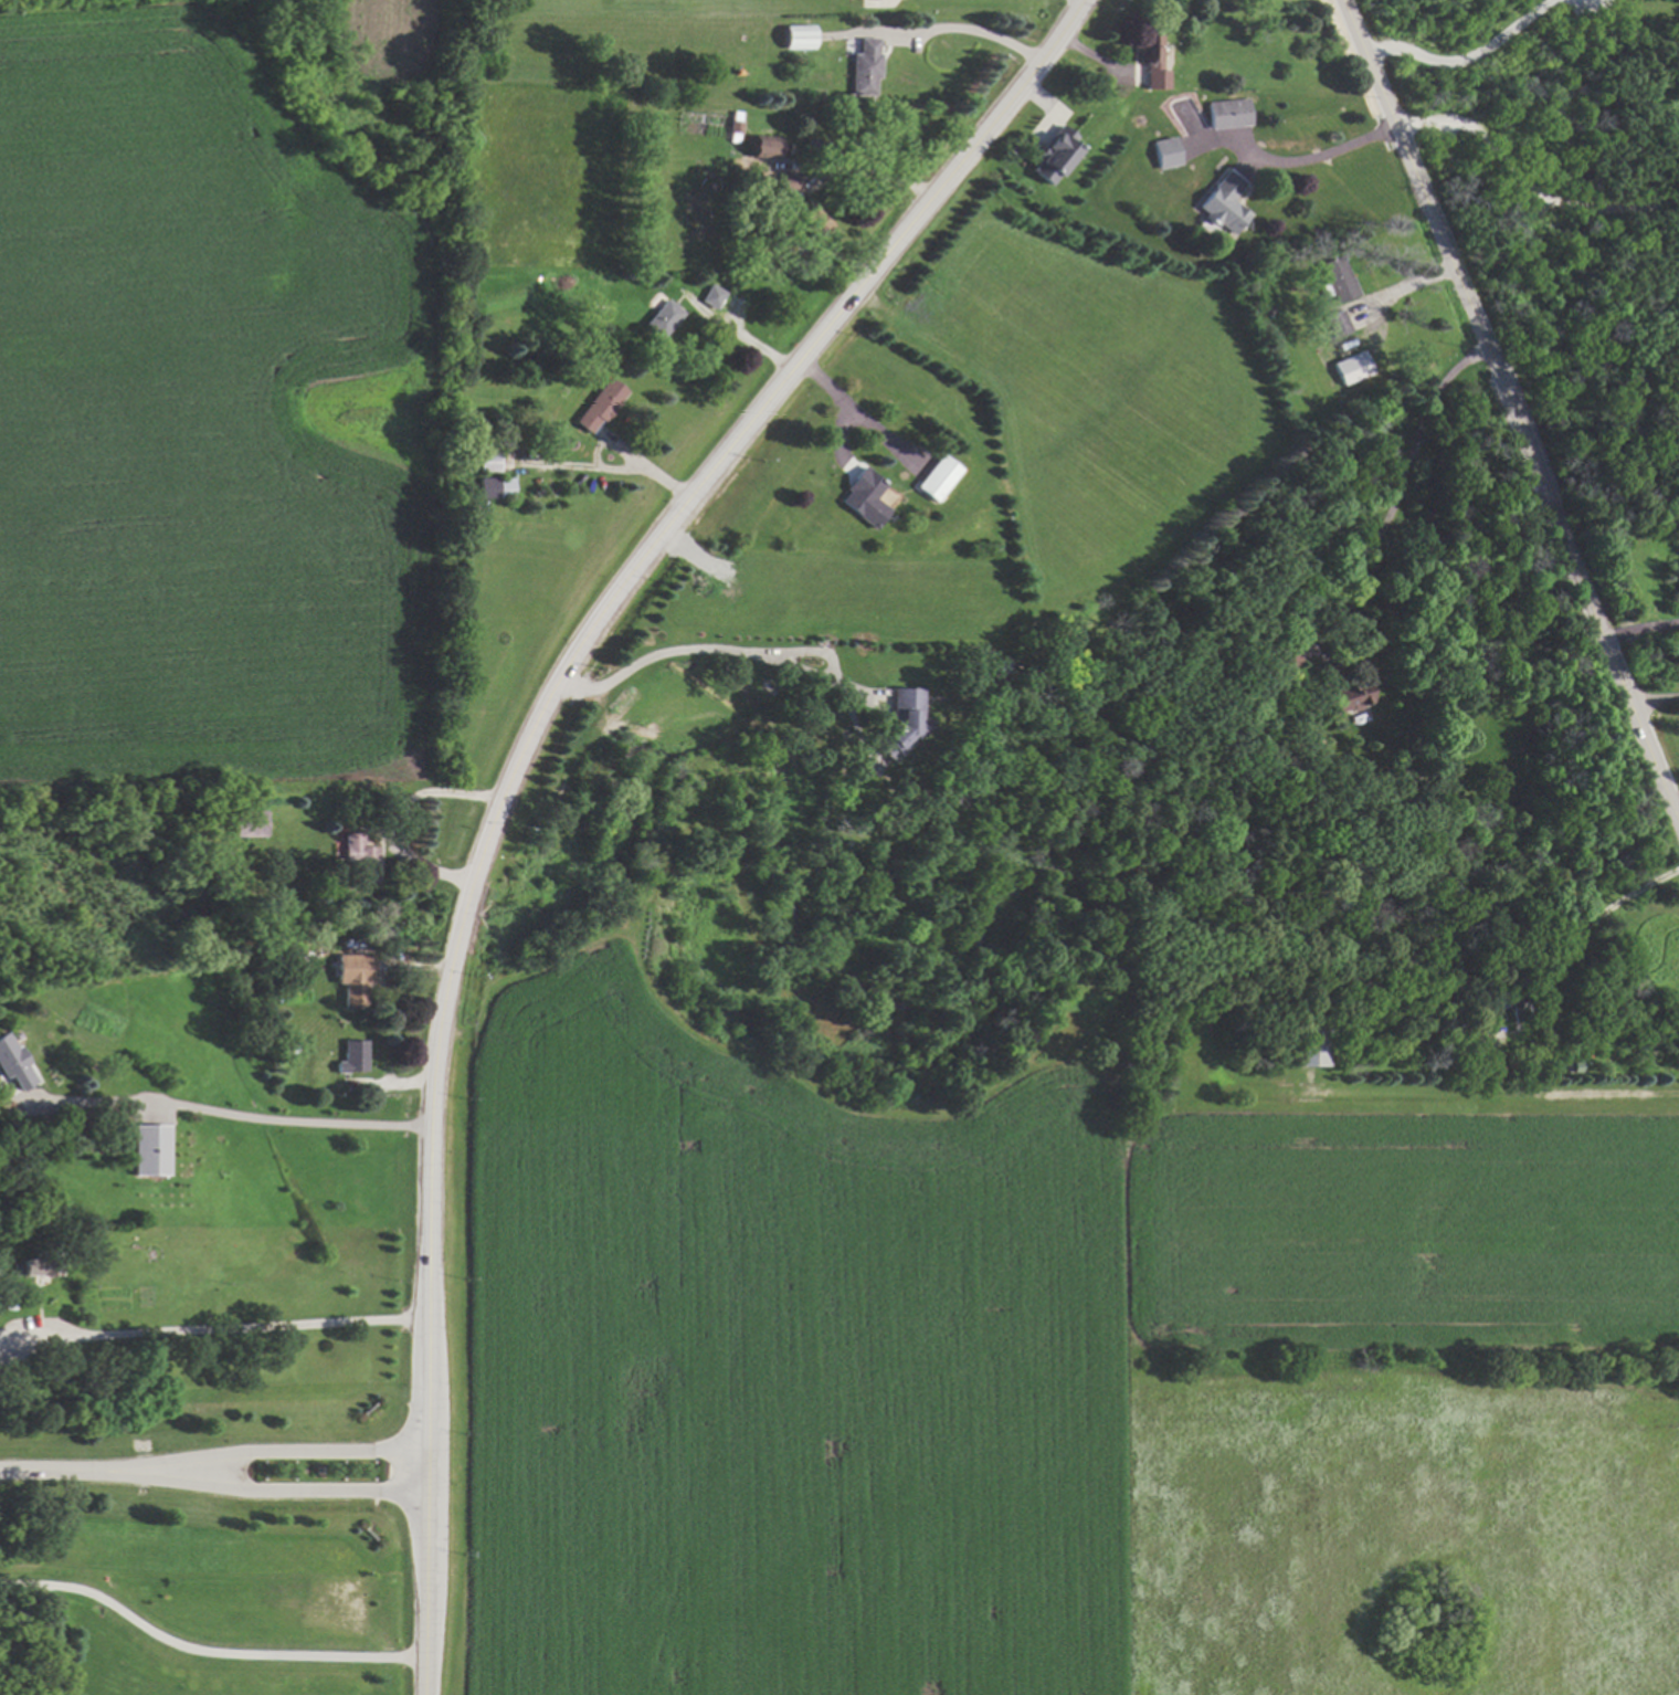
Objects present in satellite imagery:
road: (953, 27)
building: (794, 36)
road: (1467, 56)
building: (1149, 61)
building: (862, 66)
building: (1227, 113)
building: (761, 145)
building: (1163, 152)
building: (1050, 155)
road: (1320, 157)
building: (786, 185)
road: (1529, 187)
building: (1222, 202)
building: (815, 223)
building: (1335, 278)
road: (1404, 286)
building: (709, 296)
building: (658, 318)
building: (1333, 324)
building: (1349, 367)
building: (596, 404)
road: (1512, 406)
crop: (191, 417)
building: (485, 462)
road: (643, 464)
building: (936, 477)
building: (492, 487)
road: (1396, 494)
building: (862, 497)
road: (1643, 630)
road: (712, 651)
building: (1285, 656)
building: (1347, 695)
road: (1656, 698)
building: (902, 723)
road: (519, 760)
road: (1677, 801)
road: (395, 818)
building: (249, 823)
building: (360, 857)
road: (1564, 945)
building: (351, 981)
building: (1309, 1046)
building: (350, 1056)
building: (13, 1064)
road: (1456, 1096)
road: (225, 1116)
building: (150, 1150)
building: (35, 1267)
road: (222, 1329)
crop: (1046, 1388)
road: (260, 1451)
road: (47, 1470)
road: (260, 1491)
road: (203, 1656)

